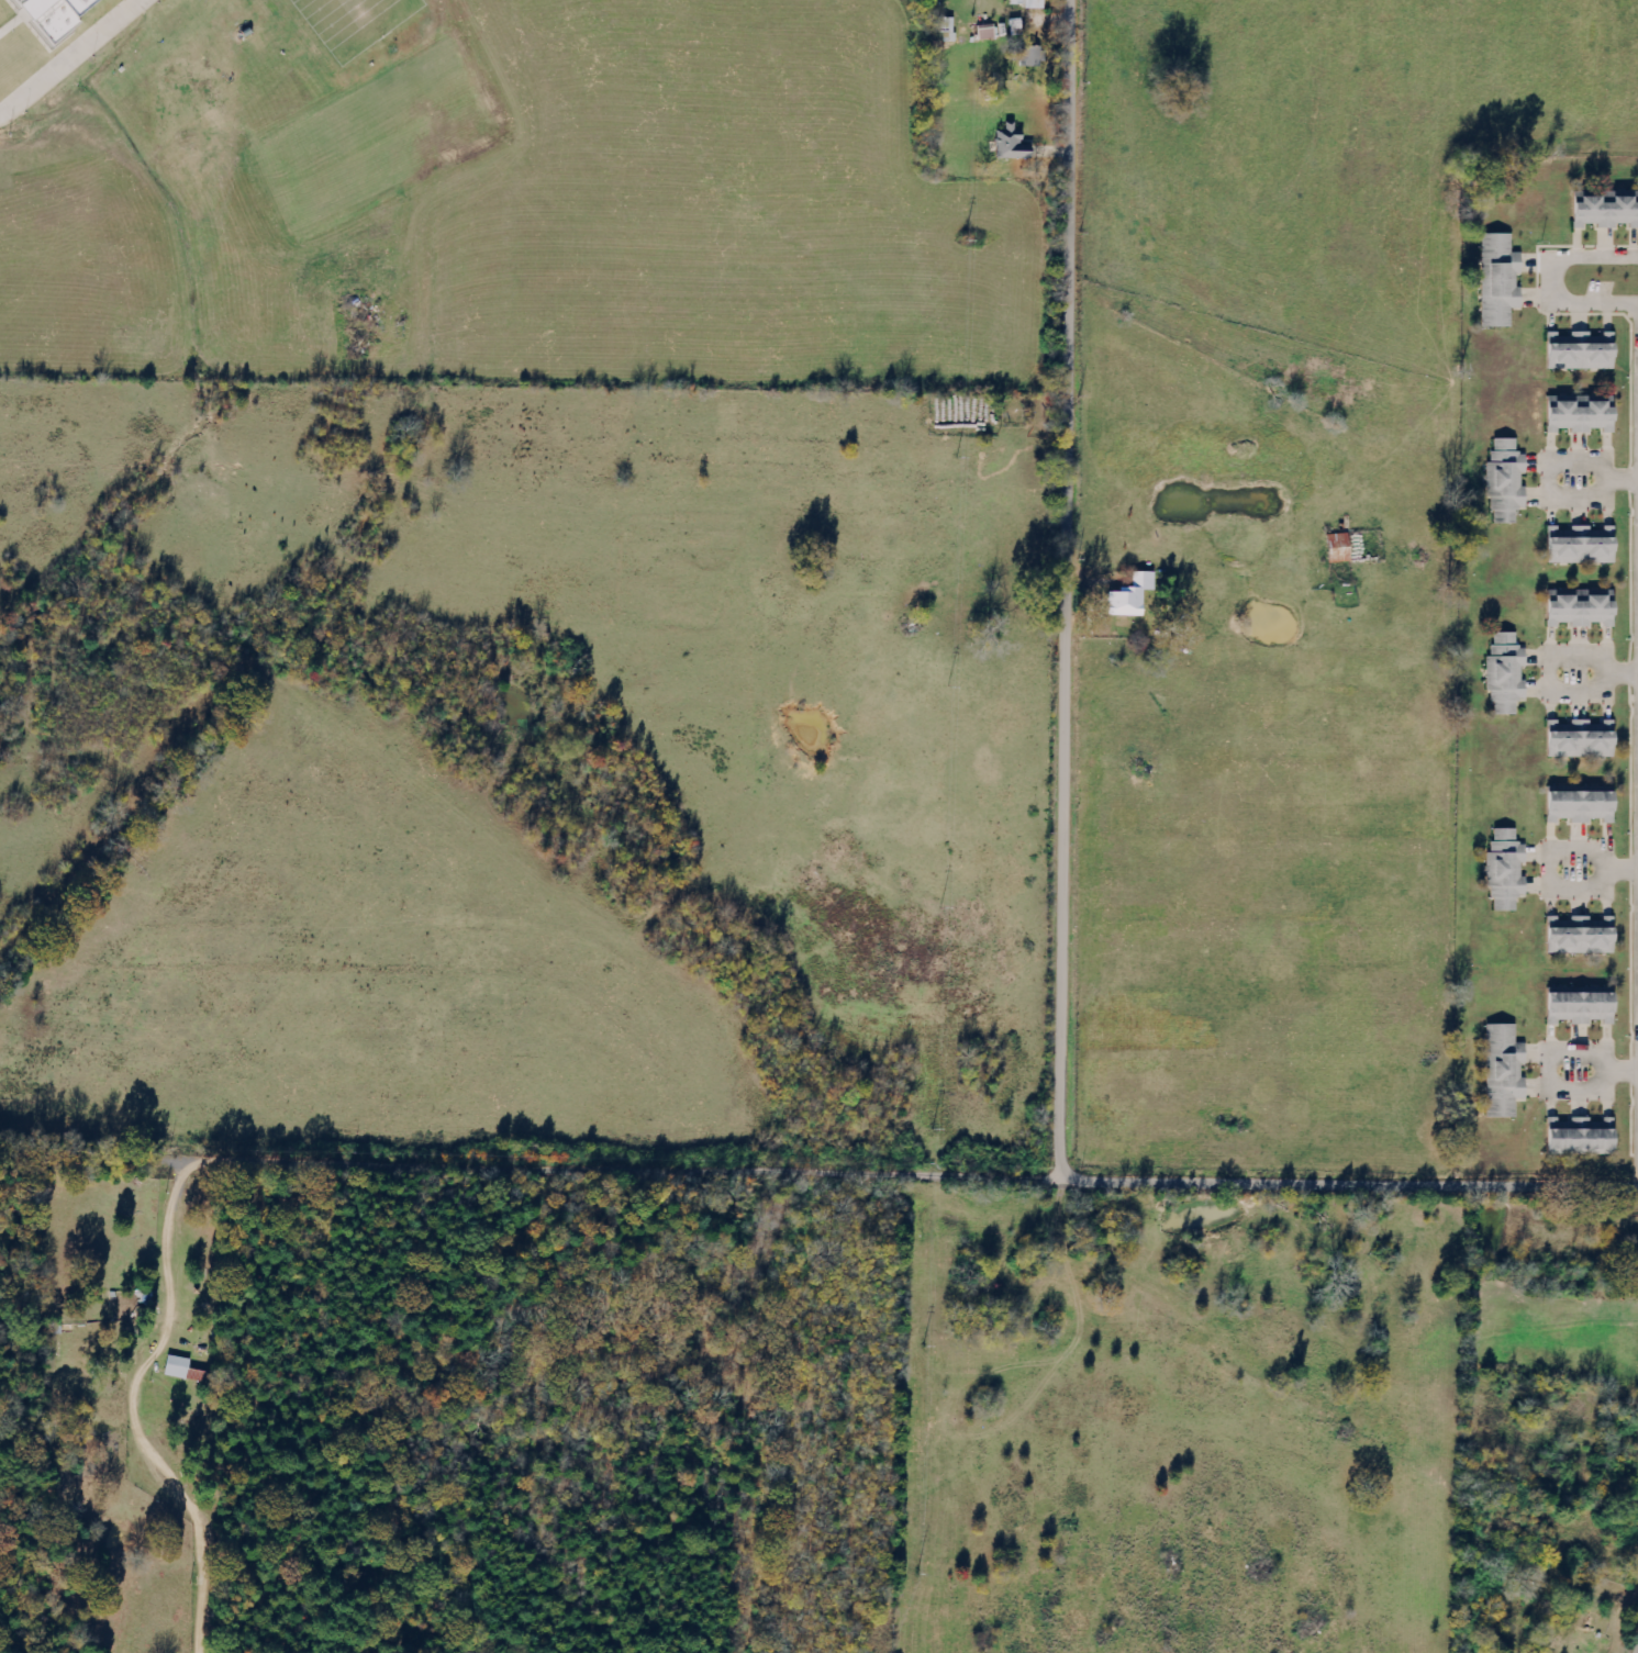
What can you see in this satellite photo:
building: (1034, 3)
building: (51, 13)
building: (948, 26)
park: (38, 31)
building: (990, 33)
road: (71, 57)
building: (1035, 57)
building: (1016, 145)
building: (1603, 212)
road: (1550, 281)
building: (1496, 282)
building: (1576, 353)
building: (1576, 417)
road: (1620, 481)
building: (1503, 484)
road: (1551, 484)
building: (1576, 547)
building: (1336, 548)
road: (1065, 585)
building: (1136, 596)
building: (1576, 611)
road: (1548, 673)
building: (1502, 675)
road: (1623, 678)
building: (1575, 740)
building: (1576, 807)
road: (1544, 862)
building: (1502, 871)
road: (1620, 873)
building: (1575, 937)
building: (1576, 1008)
building: (1501, 1073)
road: (1620, 1073)
road: (1552, 1075)
building: (1576, 1139)
road: (1210, 1177)
building: (185, 1370)

